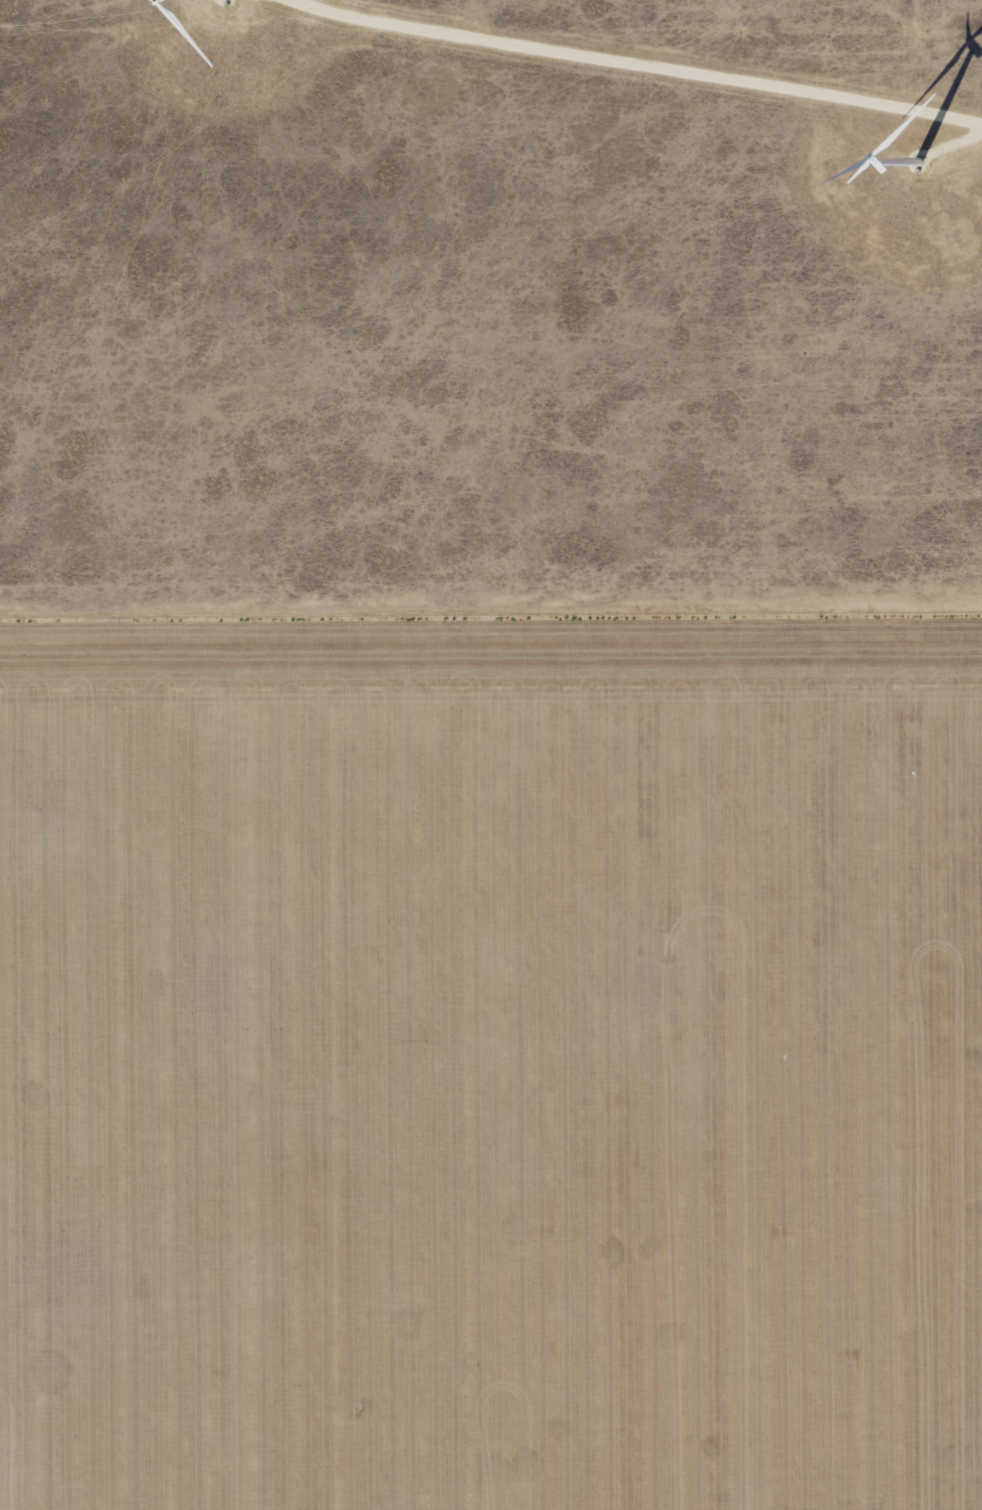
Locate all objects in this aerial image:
wind turbine: (918, 166)

